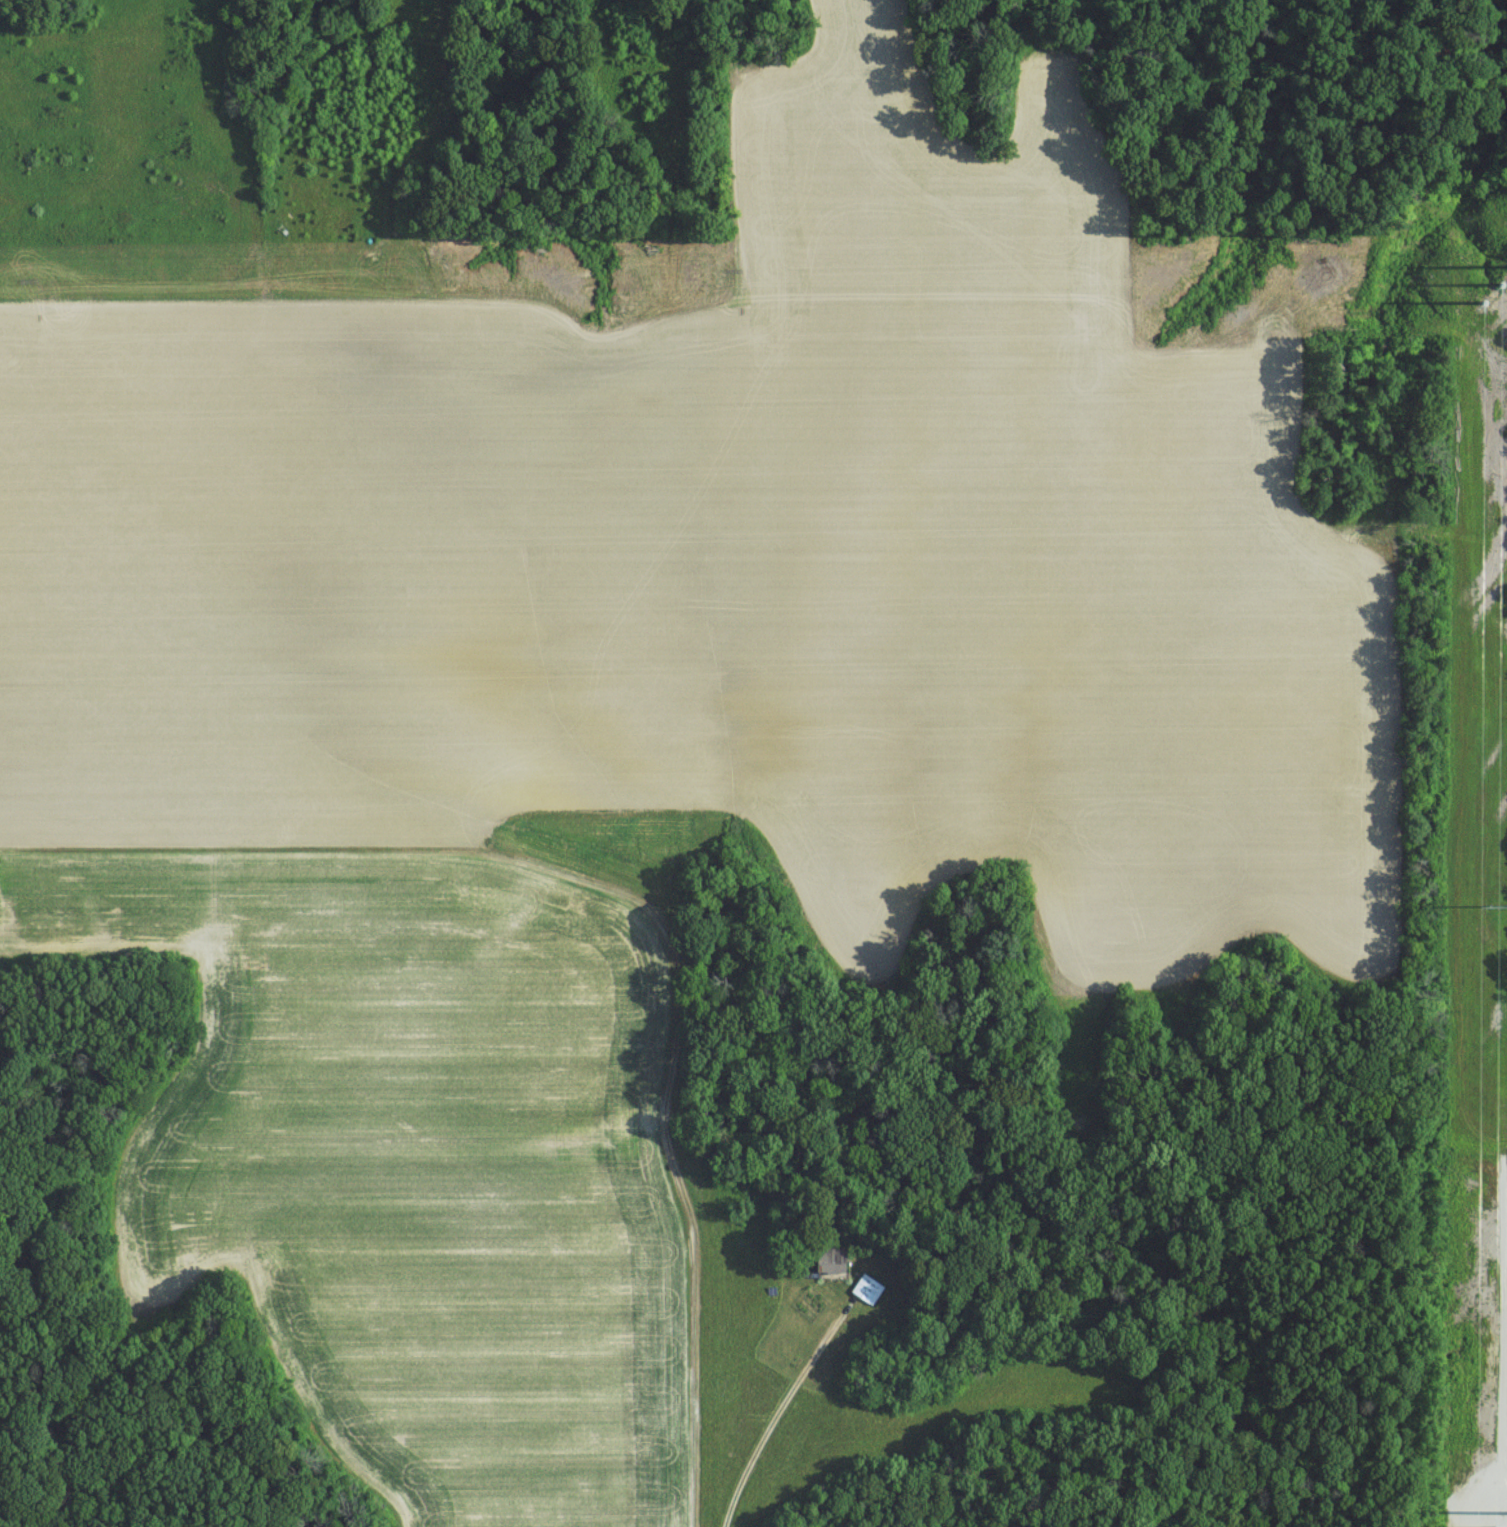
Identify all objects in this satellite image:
power tower: (1504, 283)
power tower: (750, 291)
power tower: (44, 292)
power tower: (1499, 909)
building: (836, 1266)
building: (869, 1287)
road: (776, 1418)

